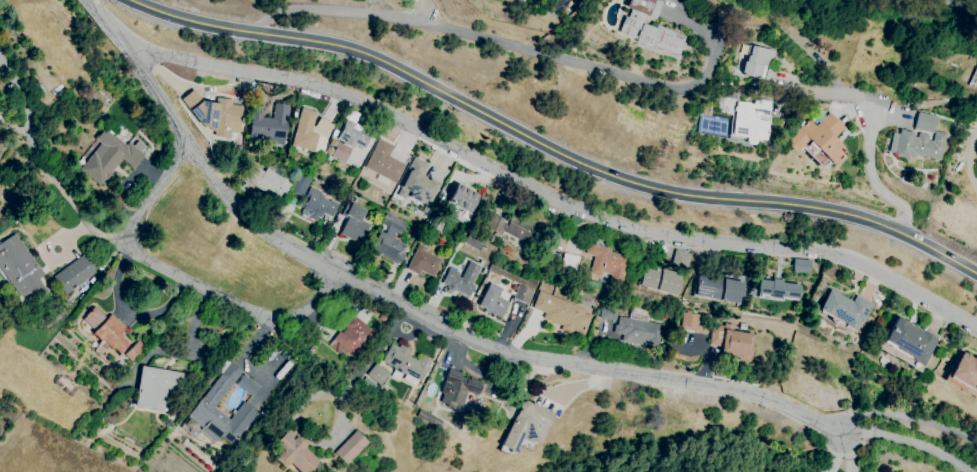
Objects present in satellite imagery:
road: (969, 3)
road: (380, 9)
road: (422, 10)
building: (648, 27)
road: (561, 58)
building: (757, 63)
building: (215, 115)
building: (750, 120)
road: (22, 122)
building: (924, 122)
building: (270, 127)
building: (311, 131)
building: (354, 136)
building: (818, 140)
building: (915, 145)
road: (548, 148)
building: (109, 158)
road: (969, 160)
building: (385, 162)
building: (420, 176)
road: (874, 176)
building: (302, 185)
building: (273, 187)
road: (160, 190)
road: (551, 199)
building: (464, 200)
building: (319, 206)
building: (354, 224)
building: (512, 228)
building: (394, 240)
building: (682, 259)
building: (607, 261)
building: (570, 262)
building: (424, 264)
building: (802, 266)
building: (20, 268)
building: (75, 275)
road: (184, 279)
building: (661, 281)
building: (462, 282)
building: (781, 290)
building: (721, 291)
building: (523, 296)
building: (494, 302)
road: (406, 310)
building: (848, 310)
building: (609, 312)
building: (563, 314)
building: (691, 322)
building: (352, 331)
building: (635, 332)
building: (113, 335)
building: (913, 342)
building: (738, 347)
road: (372, 350)
building: (407, 363)
building: (967, 372)
building: (378, 376)
building: (458, 384)
building: (156, 389)
building: (207, 405)
road: (908, 418)
building: (530, 428)
road: (906, 444)
building: (352, 448)
road: (851, 452)
road: (835, 453)
building: (296, 454)

